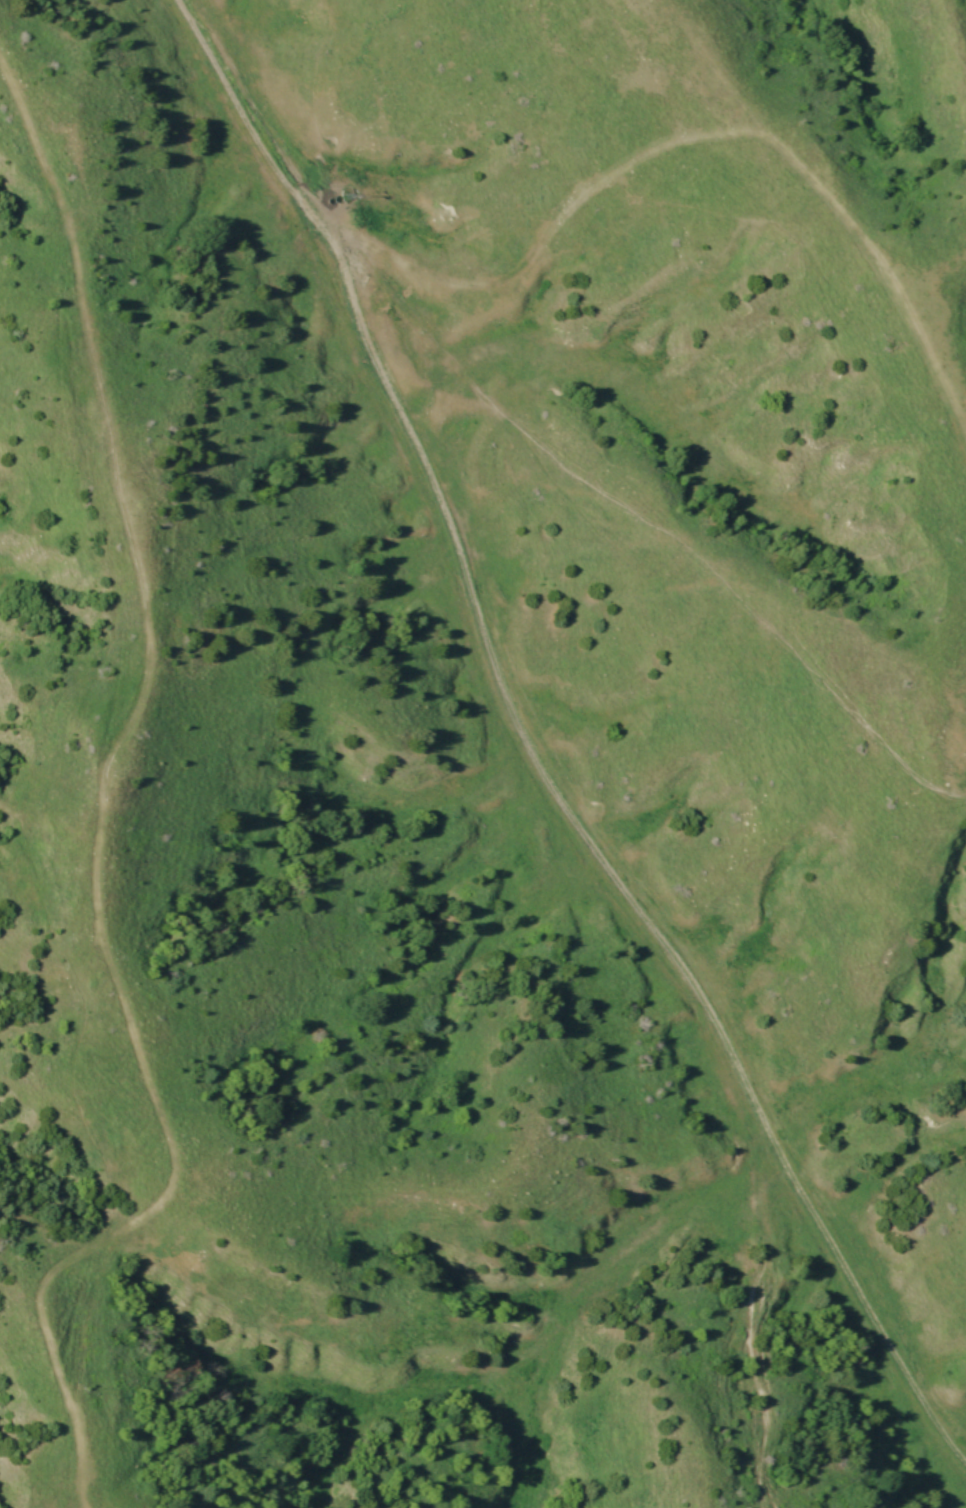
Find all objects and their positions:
road: (527, 758)

